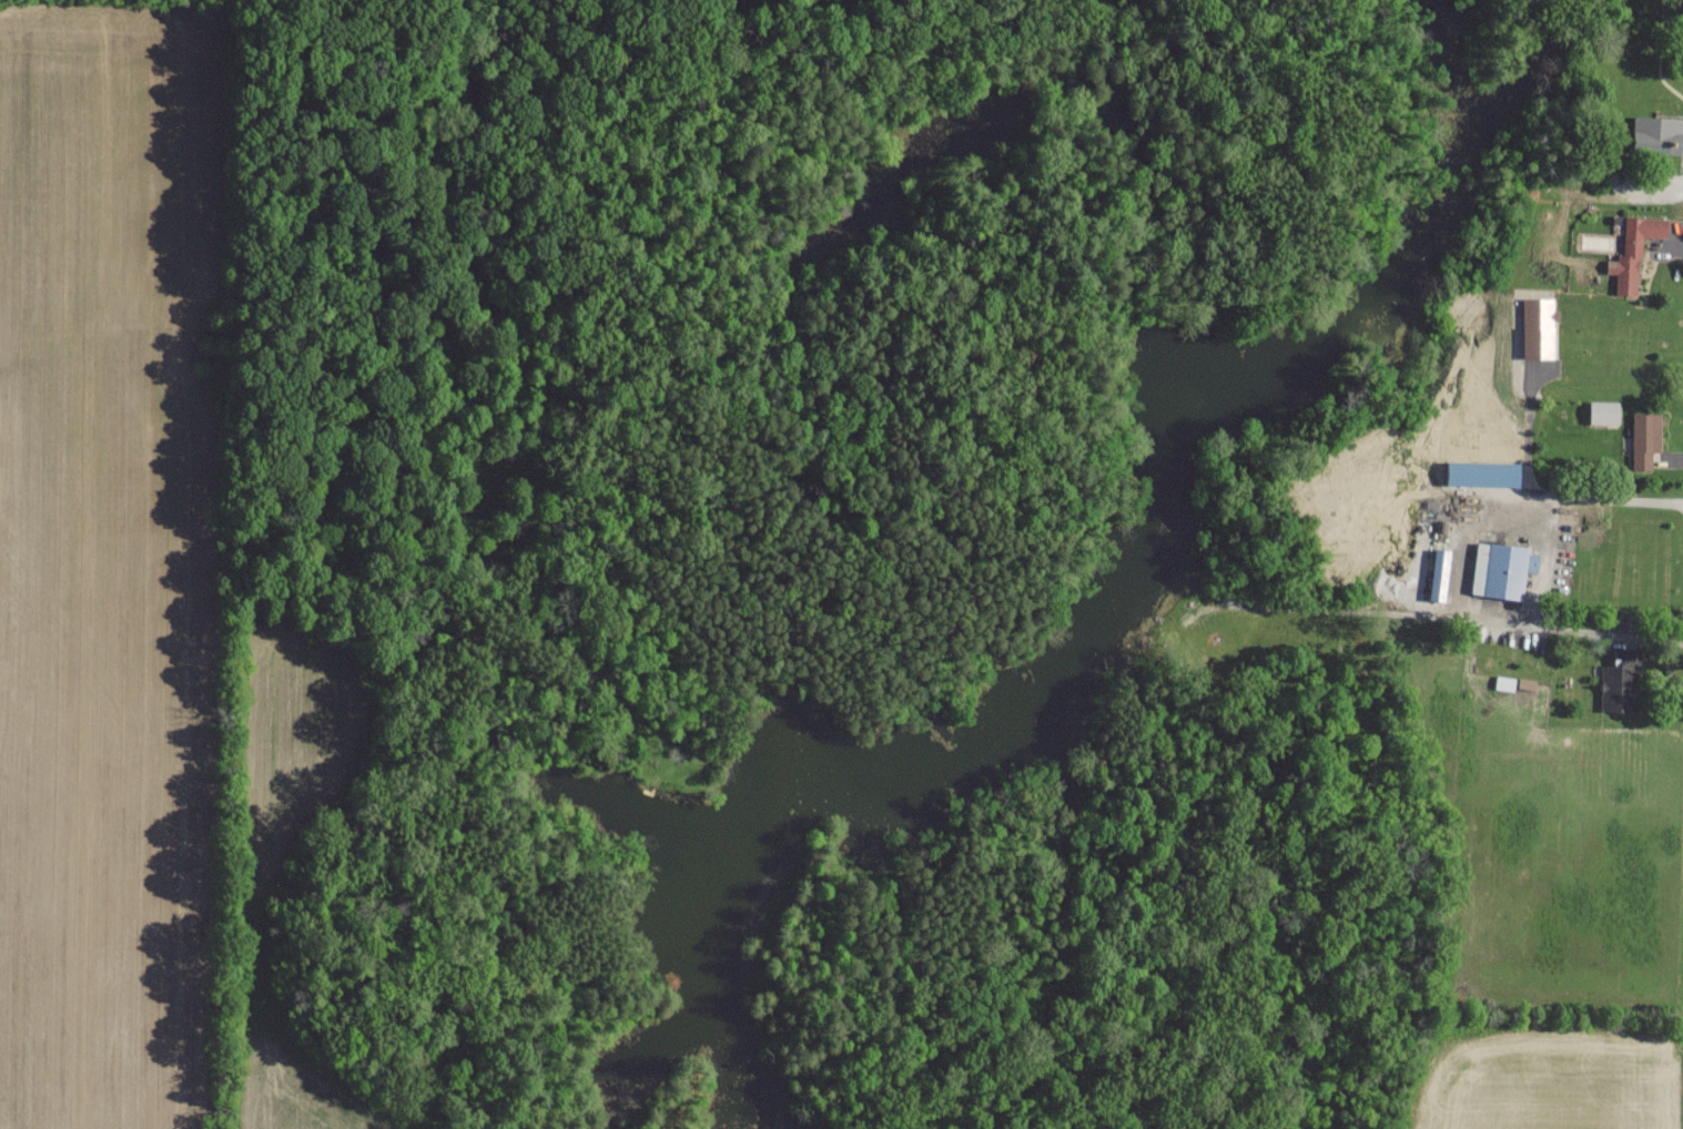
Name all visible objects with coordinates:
building: (1657, 126)
building: (1636, 245)
building: (1537, 327)
building: (1604, 407)
building: (1652, 437)
building: (1482, 474)
road: (1598, 501)
building: (1501, 564)
building: (1438, 574)
road: (1517, 619)
building: (1615, 686)

